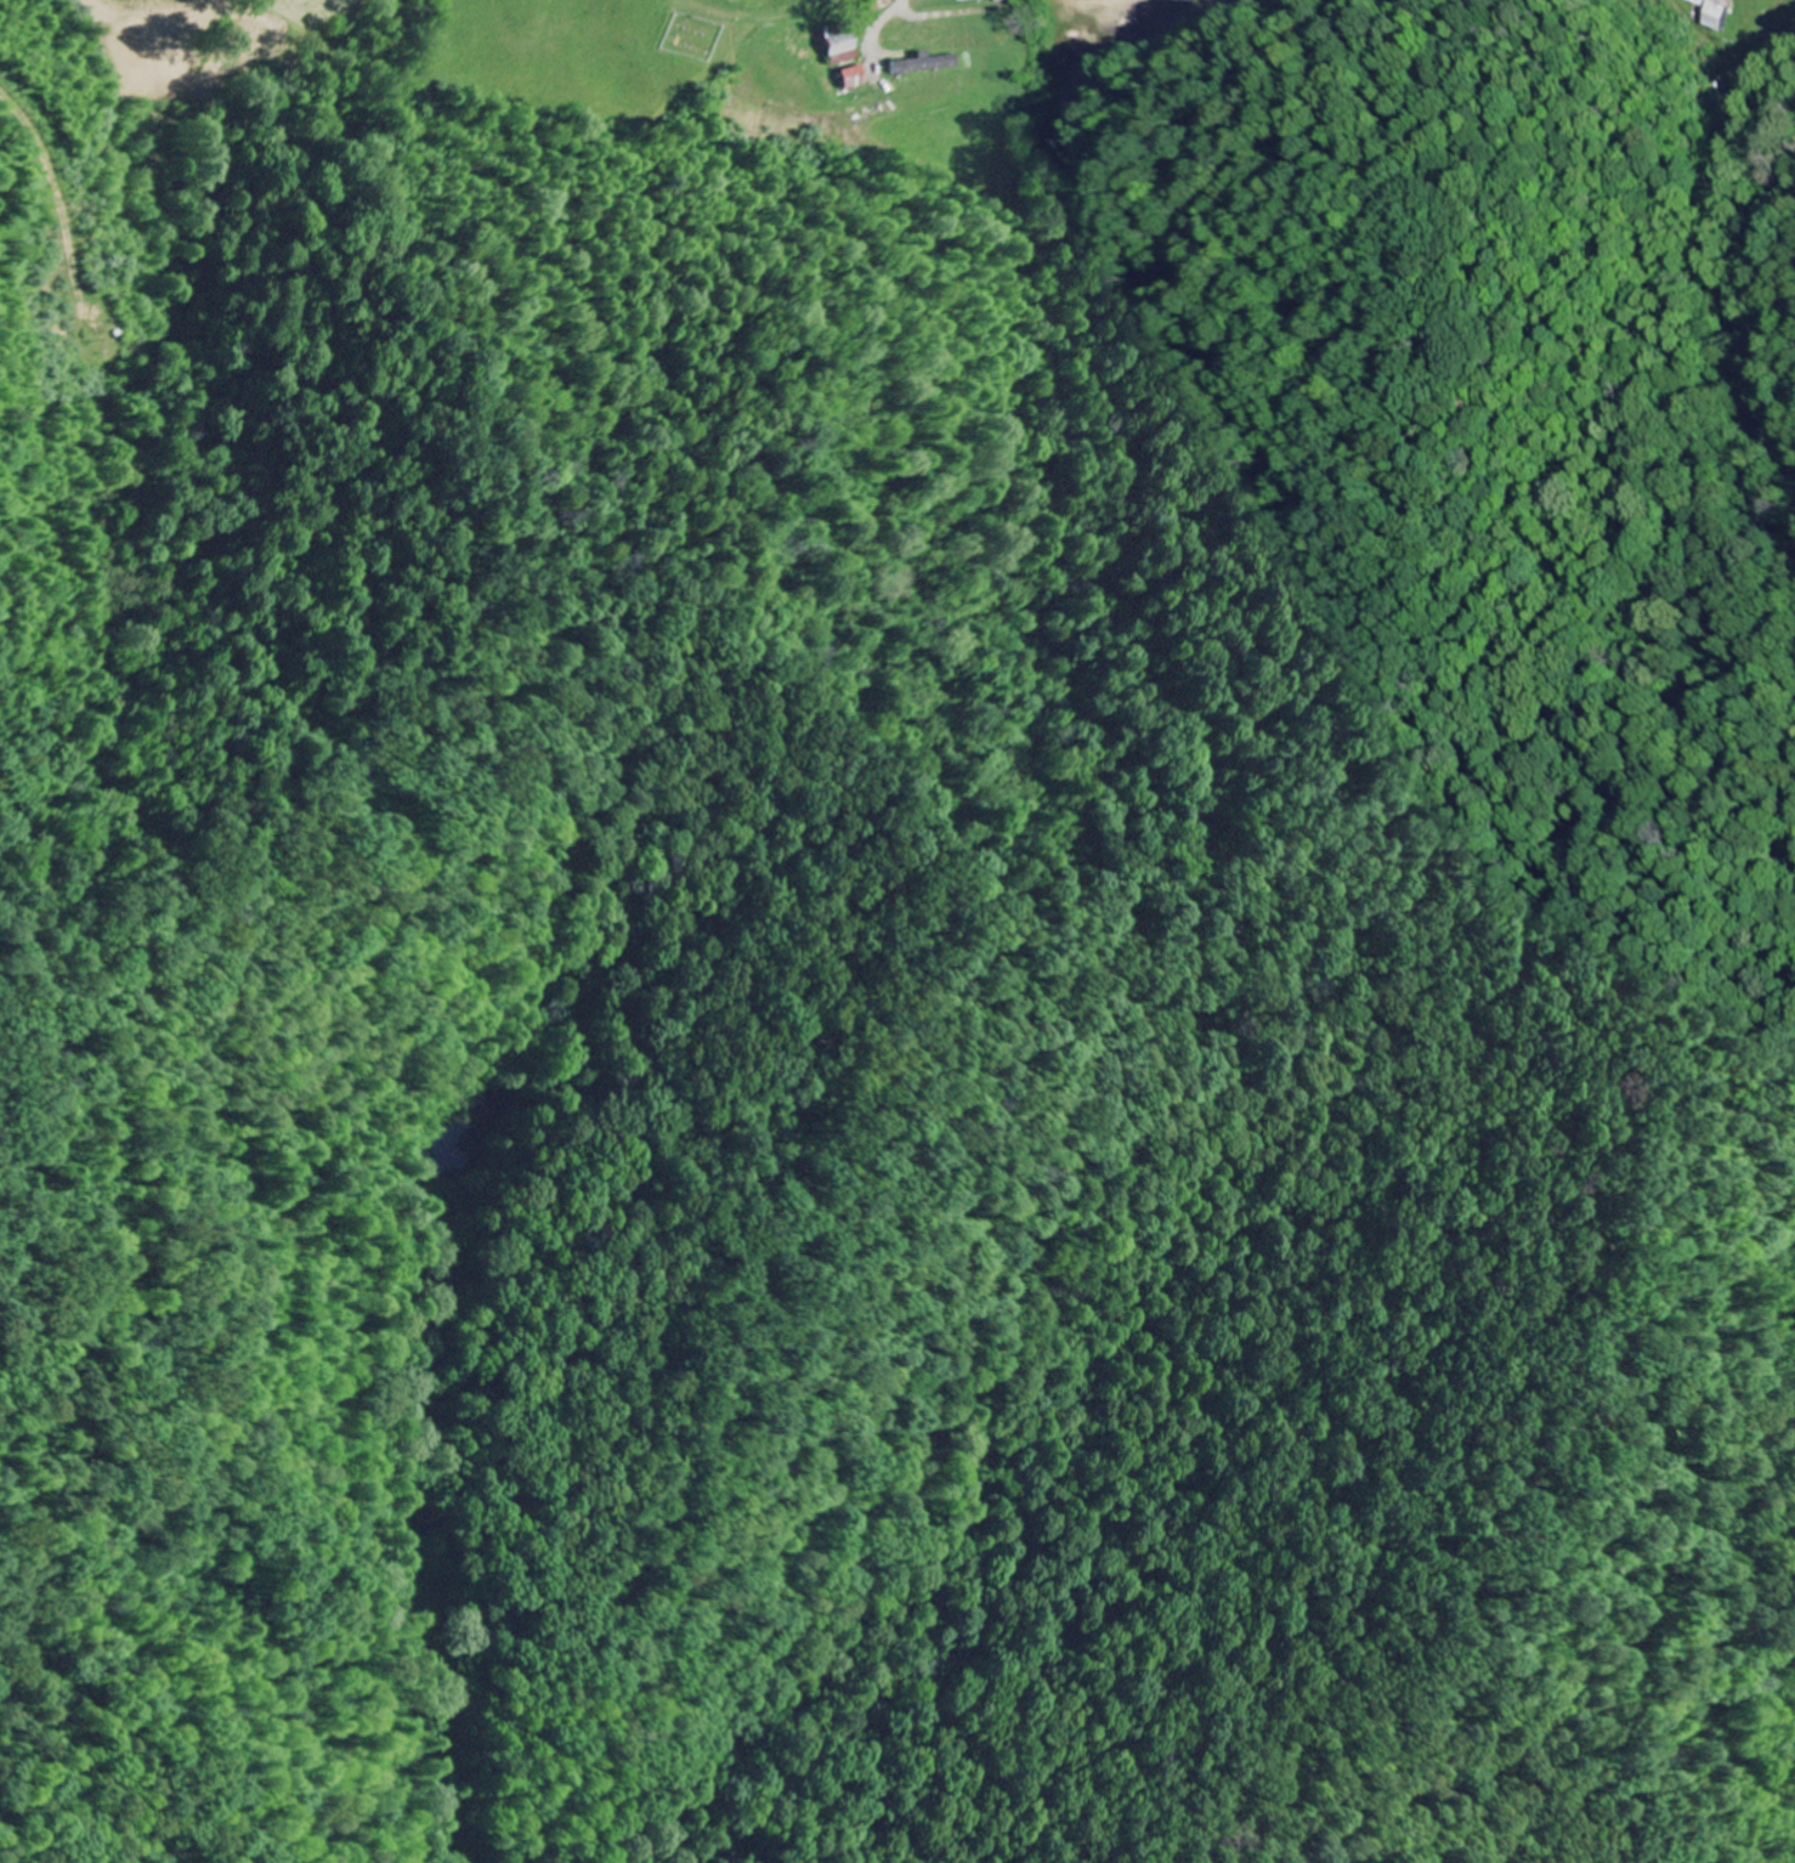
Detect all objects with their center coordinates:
road: (1755, 1)
road: (778, 16)
park: (1778, 32)
park: (695, 34)
building: (934, 62)
building: (868, 77)

